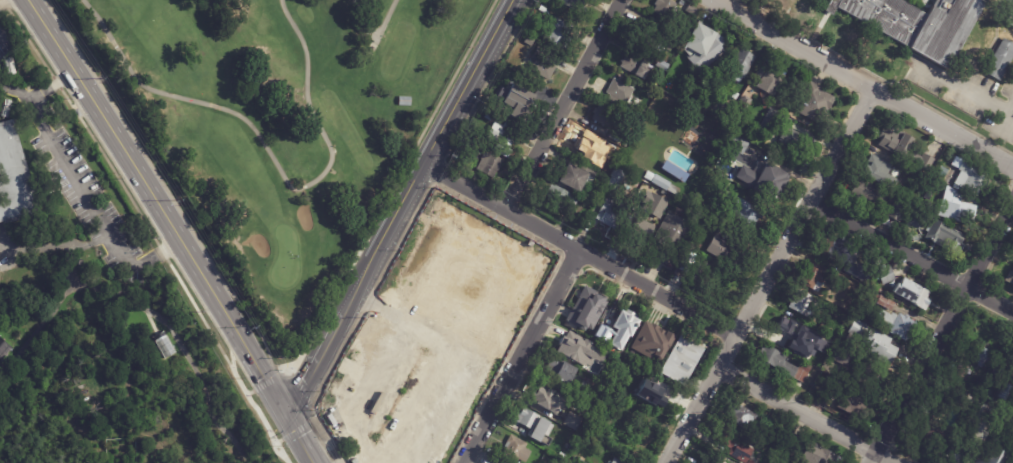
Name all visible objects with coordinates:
building: (586, 0)
road: (6, 4)
building: (574, 5)
building: (663, 8)
building: (542, 9)
building: (1009, 17)
building: (918, 24)
building: (556, 33)
road: (373, 36)
building: (651, 39)
road: (0, 40)
building: (699, 46)
building: (998, 59)
building: (542, 62)
building: (634, 65)
building: (11, 66)
building: (739, 66)
building: (767, 78)
road: (864, 84)
road: (52, 86)
road: (964, 91)
building: (734, 95)
building: (619, 96)
parking lot: (969, 96)
building: (513, 99)
building: (402, 100)
building: (741, 102)
building: (811, 102)
road: (563, 104)
building: (7, 108)
building: (482, 113)
building: (603, 115)
building: (769, 120)
park: (283, 123)
building: (500, 135)
building: (691, 137)
building: (790, 139)
building: (624, 143)
building: (897, 143)
building: (735, 144)
building: (591, 145)
road: (272, 157)
building: (923, 162)
building: (467, 164)
building: (487, 165)
building: (602, 168)
building: (671, 169)
building: (939, 171)
building: (876, 175)
building: (15, 176)
building: (912, 176)
building: (574, 177)
building: (964, 177)
building: (762, 179)
building: (614, 180)
building: (661, 183)
building: (866, 193)
road: (86, 196)
building: (687, 198)
building: (590, 199)
building: (558, 200)
road: (156, 201)
road: (401, 204)
building: (653, 205)
building: (955, 209)
building: (894, 211)
building: (609, 213)
building: (742, 214)
building: (912, 220)
building: (641, 232)
building: (668, 237)
building: (942, 237)
building: (827, 246)
road: (581, 249)
building: (727, 249)
park: (285, 251)
road: (911, 255)
building: (686, 262)
building: (45, 270)
building: (0, 273)
road: (769, 275)
building: (883, 275)
building: (698, 276)
building: (810, 277)
building: (1009, 278)
building: (913, 291)
building: (881, 302)
building: (800, 303)
building: (584, 309)
building: (894, 324)
building: (782, 329)
building: (824, 329)
building: (614, 330)
road: (941, 334)
road: (234, 340)
building: (440, 340)
building: (652, 340)
building: (871, 342)
building: (570, 343)
building: (807, 344)
building: (163, 345)
building: (4, 349)
road: (522, 356)
building: (808, 357)
building: (837, 357)
building: (981, 357)
building: (681, 358)
road: (234, 362)
building: (783, 364)
building: (560, 370)
road: (287, 371)
building: (961, 372)
building: (866, 373)
road: (268, 382)
road: (301, 389)
building: (825, 391)
road: (251, 392)
building: (583, 392)
road: (967, 393)
building: (651, 394)
building: (540, 396)
building: (942, 399)
building: (612, 402)
traffic signals: (283, 405)
building: (851, 405)
building: (575, 406)
road: (255, 407)
road: (808, 414)
road: (318, 415)
building: (740, 417)
building: (566, 420)
building: (926, 426)
building: (538, 428)
road: (298, 431)
road: (299, 433)
building: (765, 434)
road: (280, 441)
building: (970, 442)
building: (730, 445)
building: (515, 451)
building: (817, 454)
road: (486, 455)
building: (560, 456)
building: (988, 456)
building: (708, 457)
building: (577, 461)
building: (616, 461)
building: (1009, 461)
building: (785, 462)

